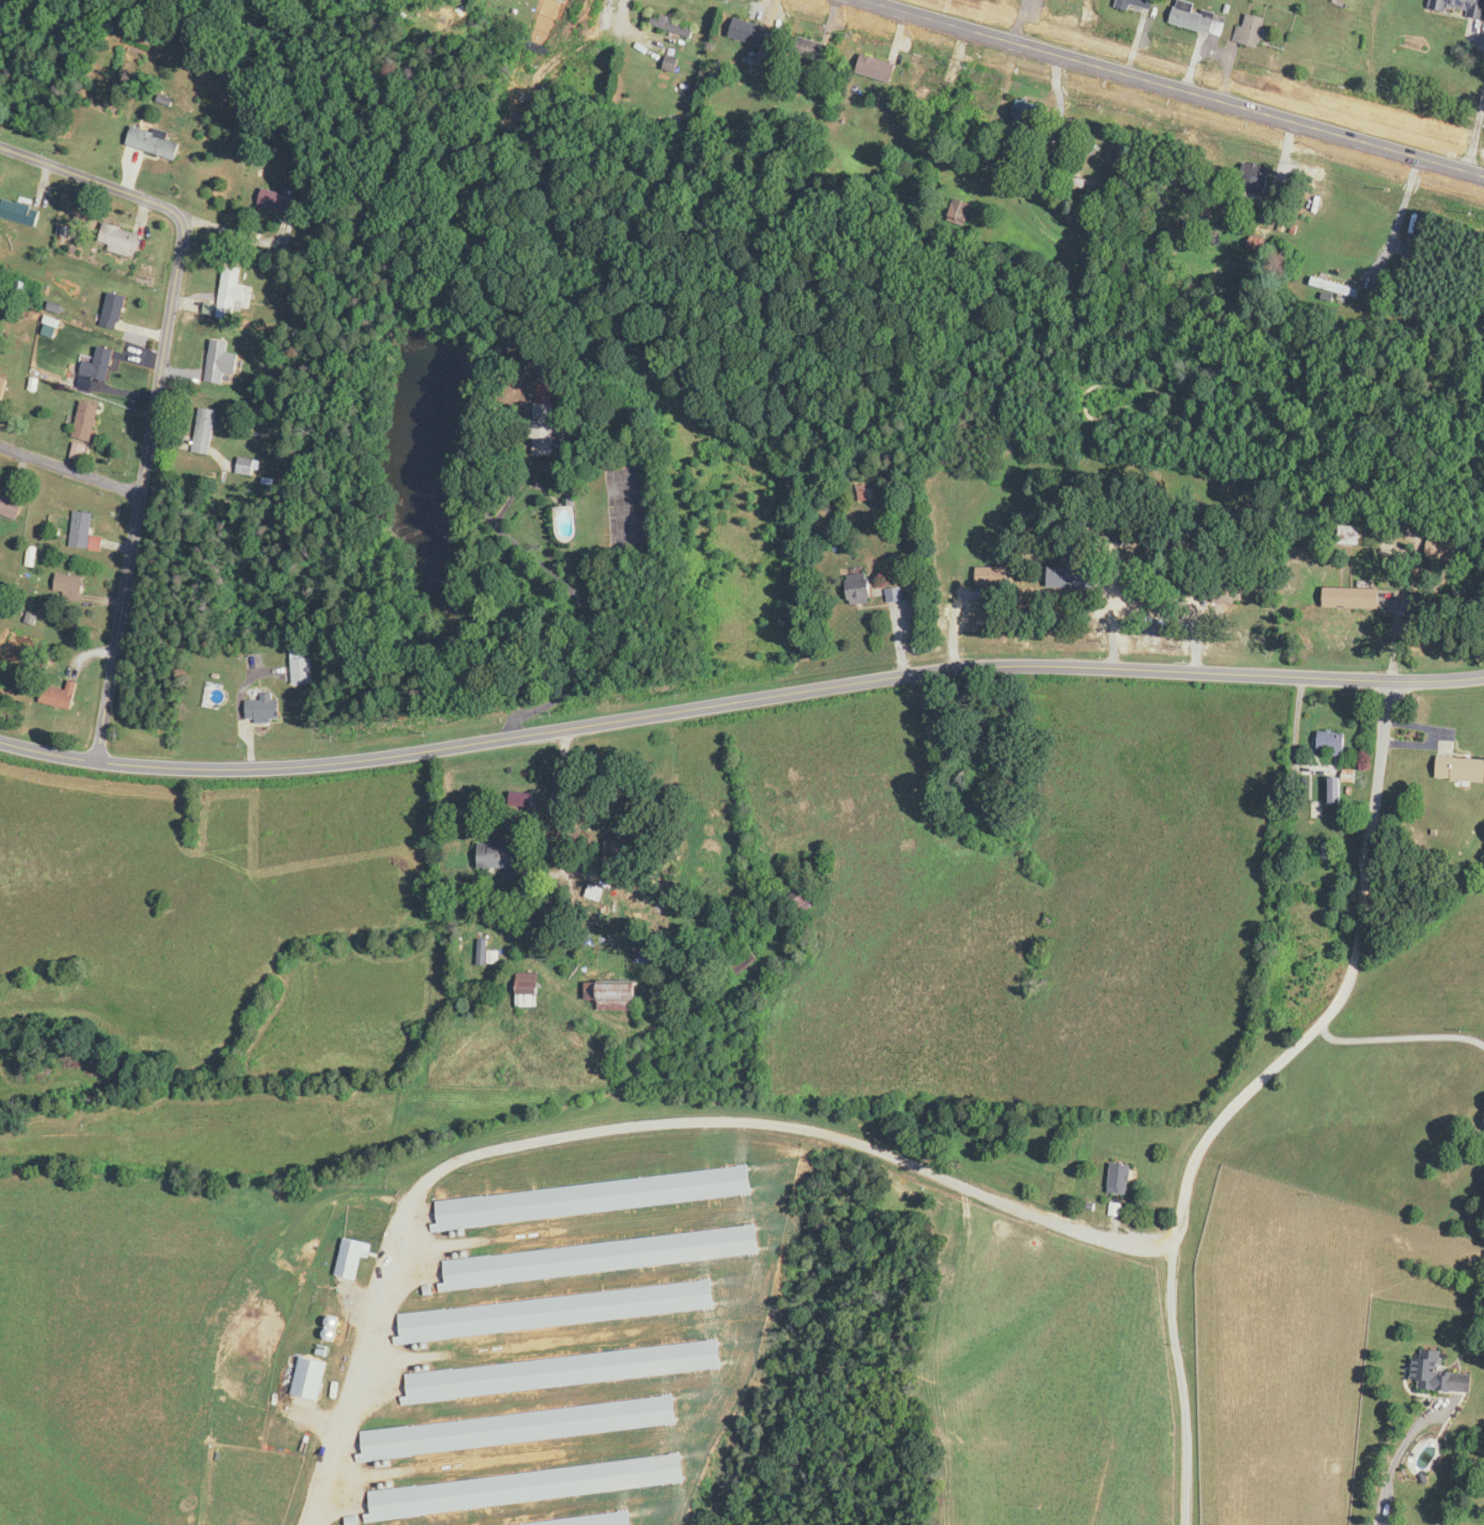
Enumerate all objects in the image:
building: (609, 2)
building: (1137, 4)
building: (1461, 7)
building: (1198, 19)
road: (625, 21)
building: (674, 26)
building: (594, 27)
building: (1252, 31)
building: (756, 34)
road: (1483, 35)
building: (812, 49)
building: (879, 69)
building: (936, 85)
road: (1174, 87)
building: (988, 101)
building: (1030, 114)
road: (1475, 134)
building: (154, 142)
building: (279, 202)
building: (20, 212)
building: (963, 212)
road: (1401, 214)
road: (242, 236)
building: (121, 240)
building: (1335, 287)
building: (232, 295)
building: (114, 311)
building: (662, 350)
building: (222, 363)
building: (100, 366)
building: (3, 388)
road: (157, 393)
building: (88, 421)
building: (547, 429)
building: (206, 432)
building: (80, 452)
building: (249, 467)
road: (70, 470)
building: (864, 494)
building: (10, 506)
building: (85, 532)
building: (1351, 535)
road: (513, 541)
building: (993, 577)
building: (1074, 579)
building: (71, 587)
building: (860, 589)
road: (1150, 611)
building: (256, 661)
building: (302, 668)
building: (62, 696)
building: (216, 696)
road: (739, 701)
building: (266, 710)
building: (1336, 740)
building: (1463, 767)
road: (566, 799)
building: (503, 854)
building: (621, 860)
building: (805, 903)
building: (529, 987)
building: (620, 996)
road: (1399, 1038)
road: (1248, 1092)
road: (624, 1124)
building: (1121, 1179)
building: (595, 1198)
building: (602, 1257)
building: (352, 1259)
building: (558, 1311)
building: (564, 1371)
building: (1441, 1374)
building: (311, 1378)
building: (520, 1427)
road: (1396, 1459)
building: (529, 1486)
building: (598, 1521)

